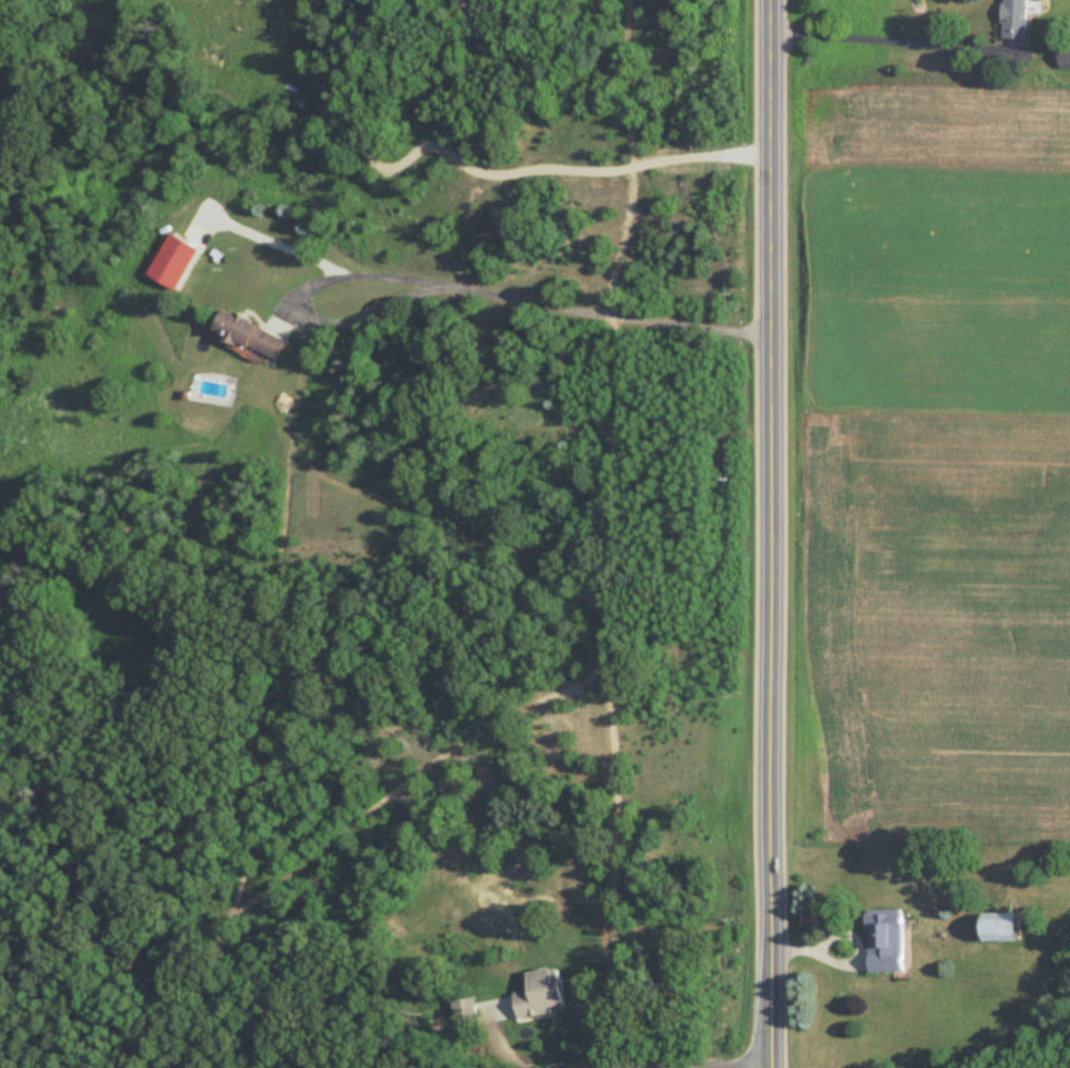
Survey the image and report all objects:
building: (1015, 20)
road: (890, 40)
building: (1065, 60)
road: (272, 245)
road: (533, 300)
building: (251, 336)
road: (770, 533)
building: (1003, 928)
building: (887, 941)
building: (543, 995)
building: (468, 1012)

